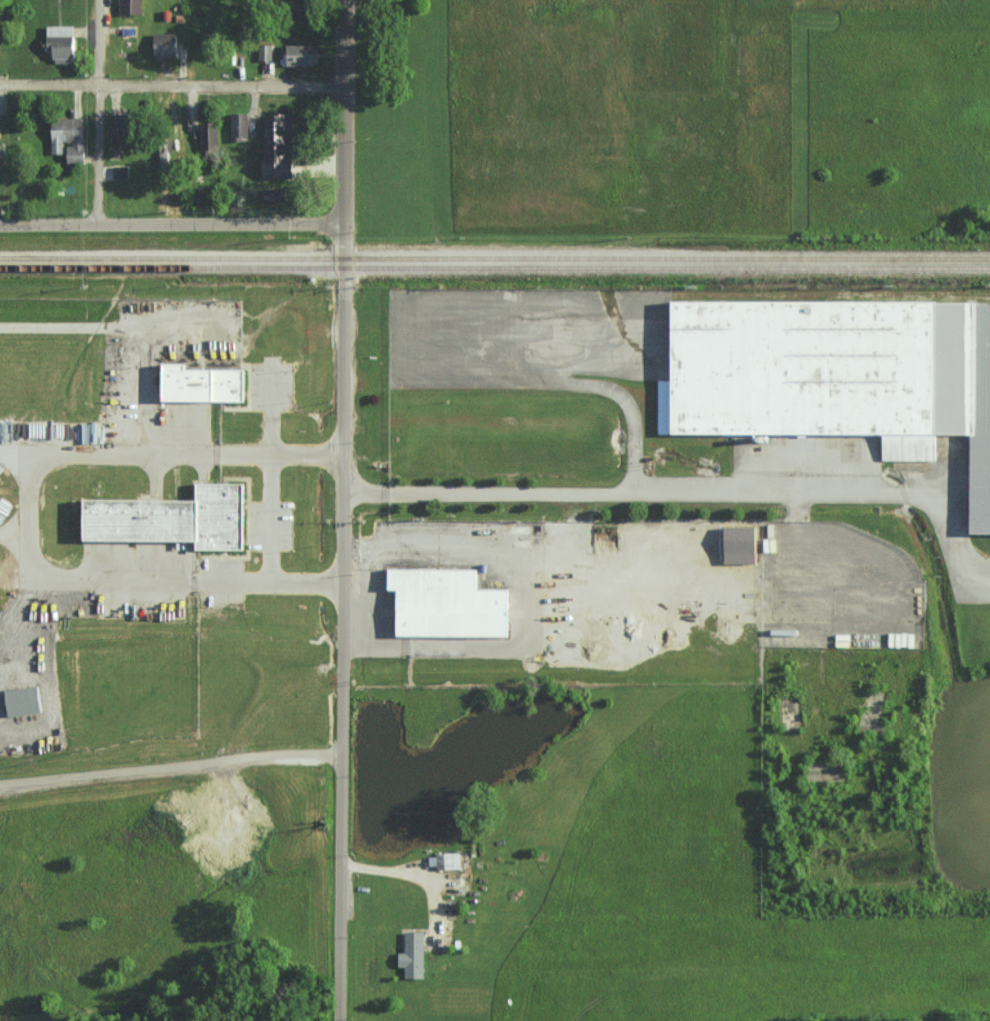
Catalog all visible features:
building: (131, 6)
building: (63, 44)
building: (166, 44)
building: (265, 50)
building: (303, 54)
road: (172, 83)
road: (97, 111)
building: (240, 125)
building: (124, 129)
building: (70, 139)
building: (209, 139)
building: (281, 145)
building: (164, 159)
road: (172, 222)
railway: (495, 256)
railway: (495, 268)
building: (833, 377)
building: (202, 384)
parking lot: (271, 387)
road: (273, 477)
road: (617, 500)
road: (343, 510)
road: (30, 518)
building: (174, 519)
parking lot: (272, 525)
road: (955, 555)
parking lot: (224, 582)
road: (983, 598)
parking lot: (121, 604)
building: (443, 604)
building: (901, 640)
building: (25, 701)
road: (171, 769)
building: (444, 860)
building: (409, 956)

